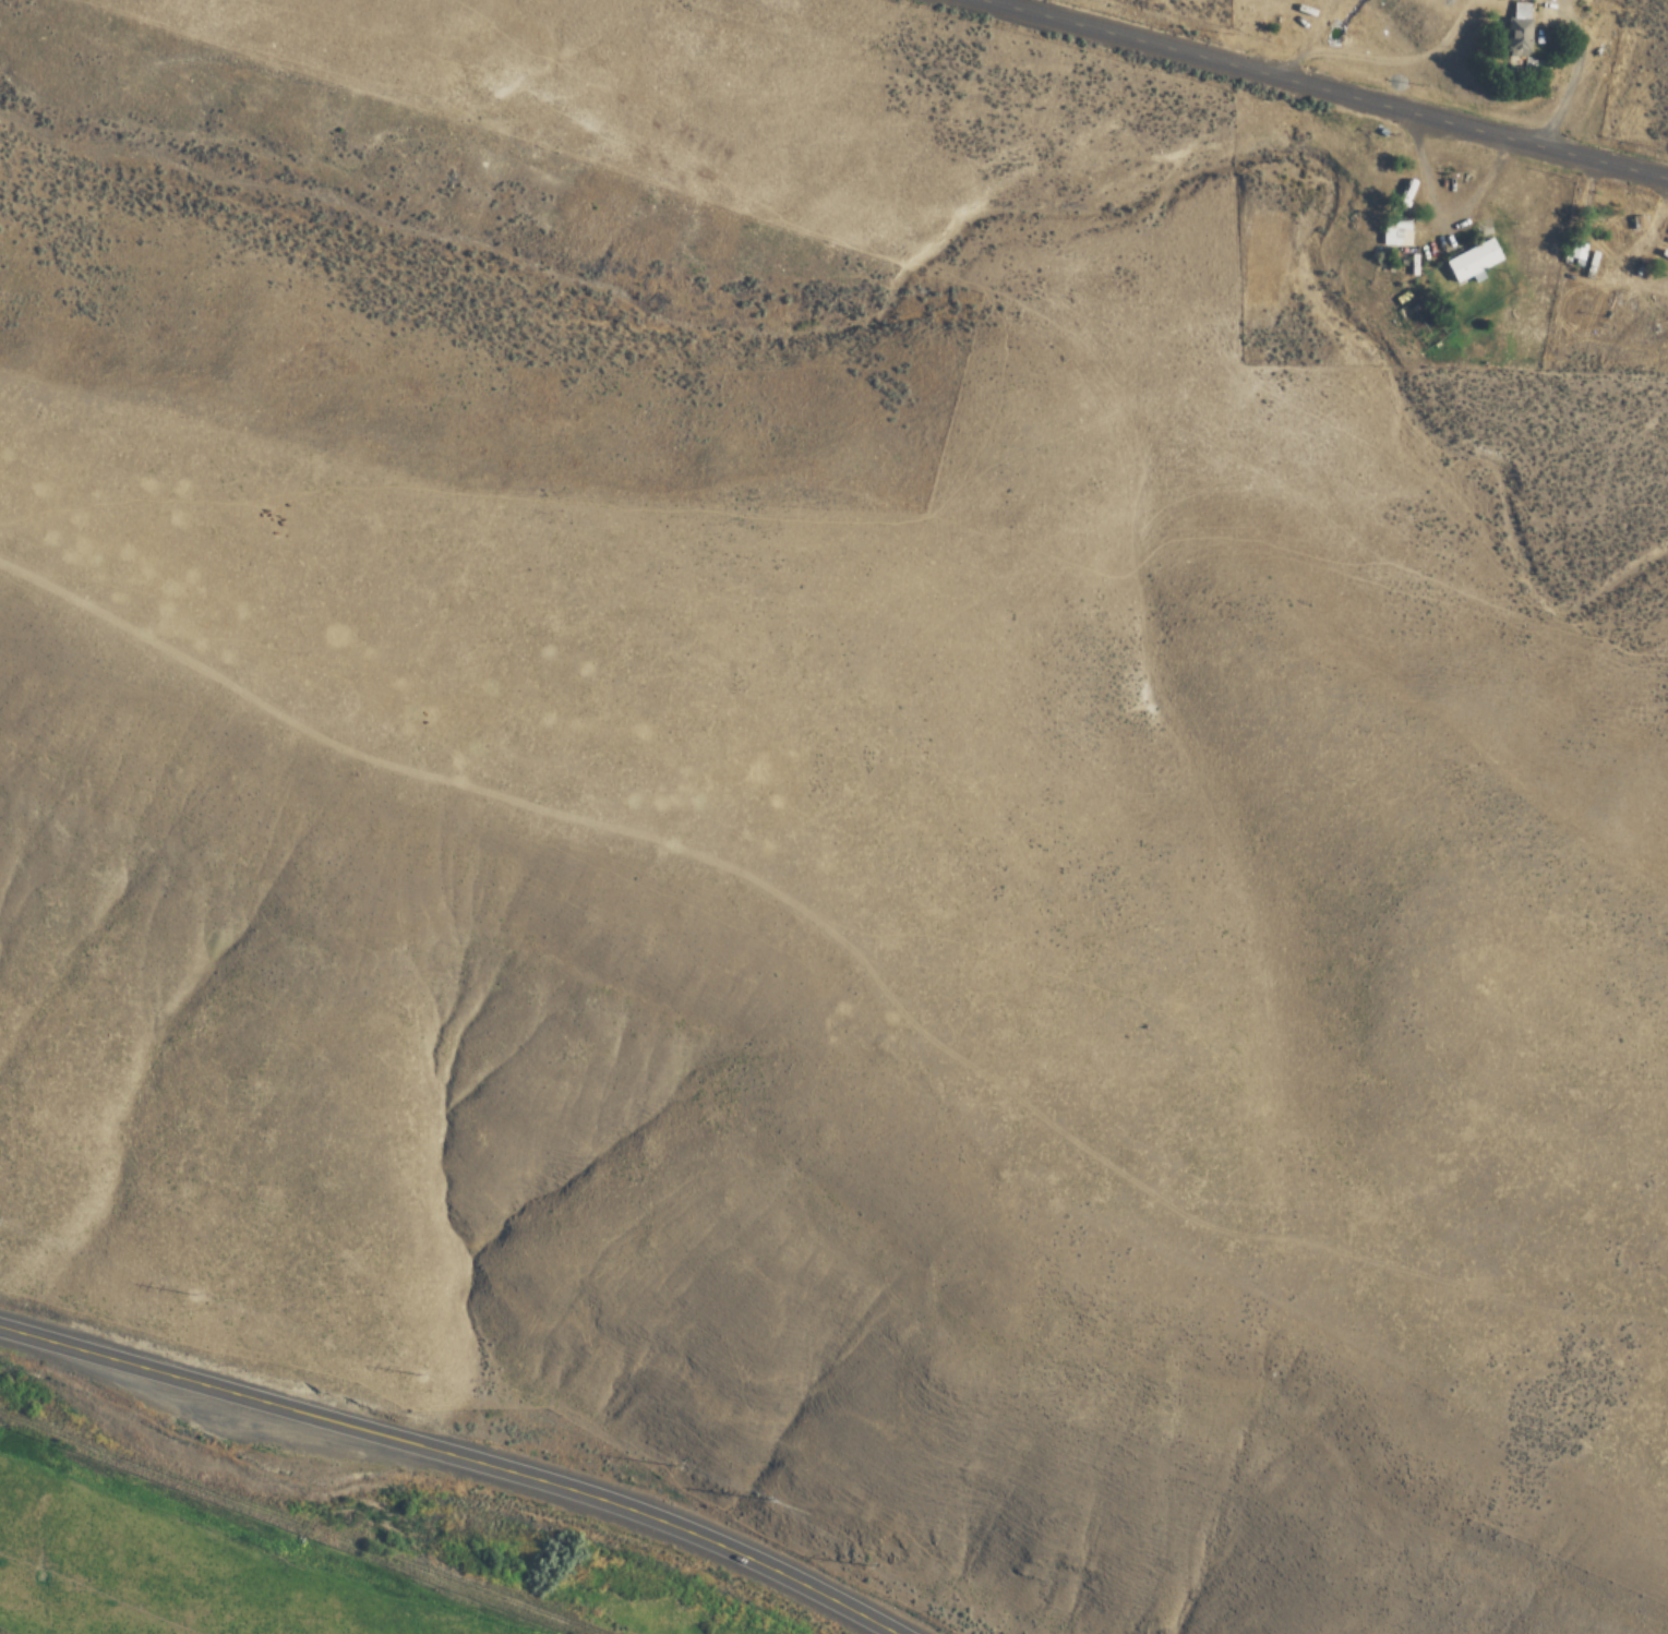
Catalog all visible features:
building: (1514, 31)
road: (1327, 89)
building: (1394, 196)
building: (1622, 231)
building: (1392, 235)
building: (1468, 263)
road: (457, 1457)

